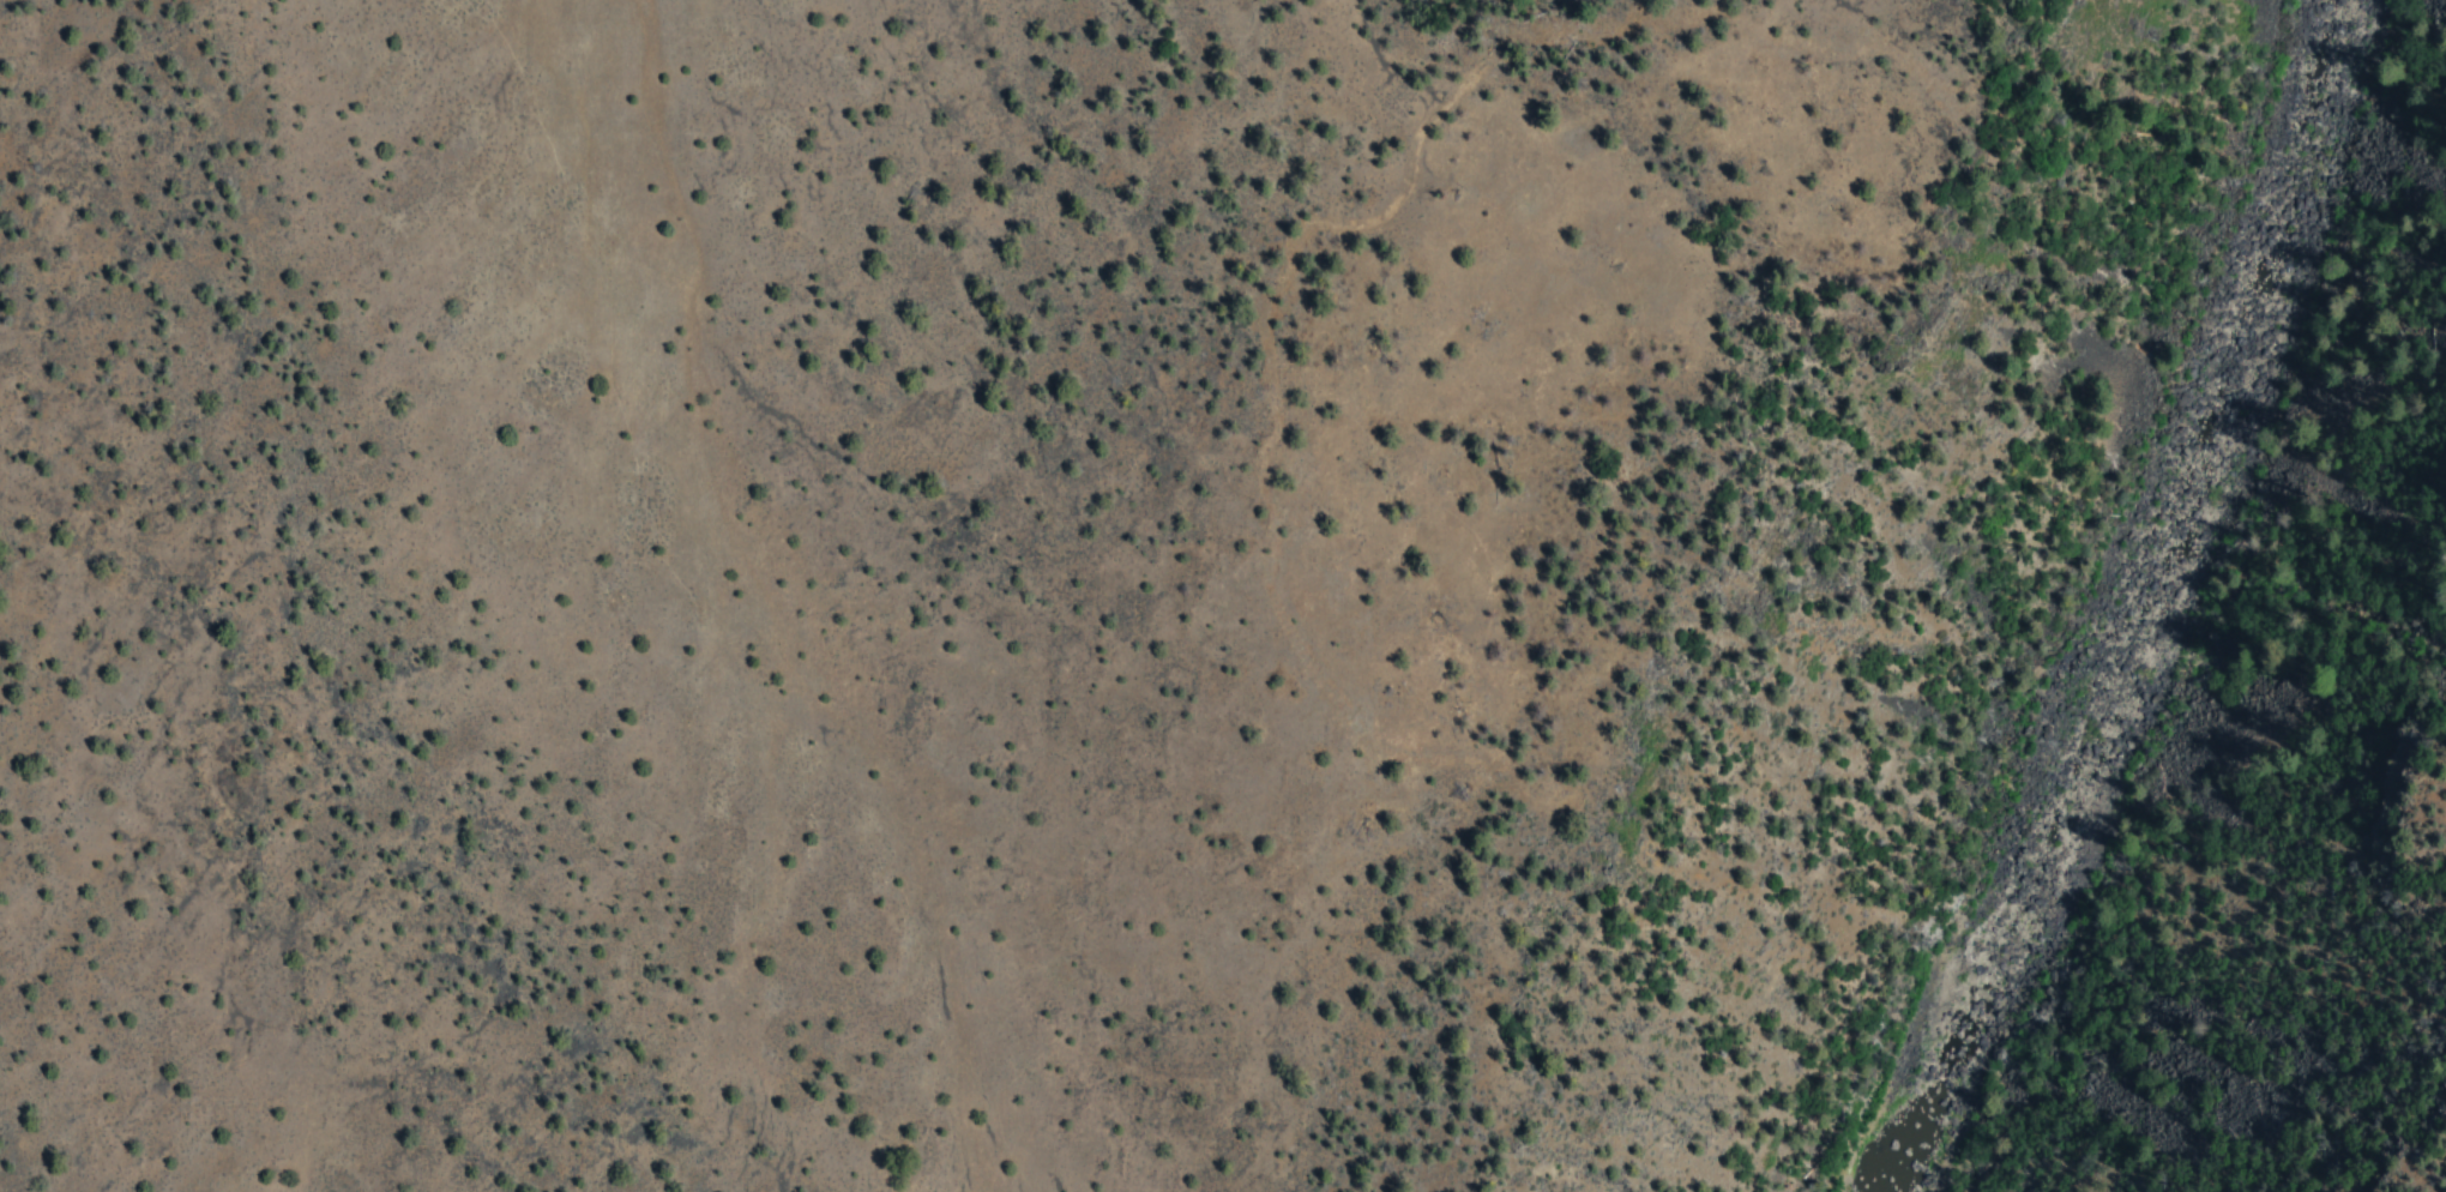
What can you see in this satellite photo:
river: (2165, 604)

